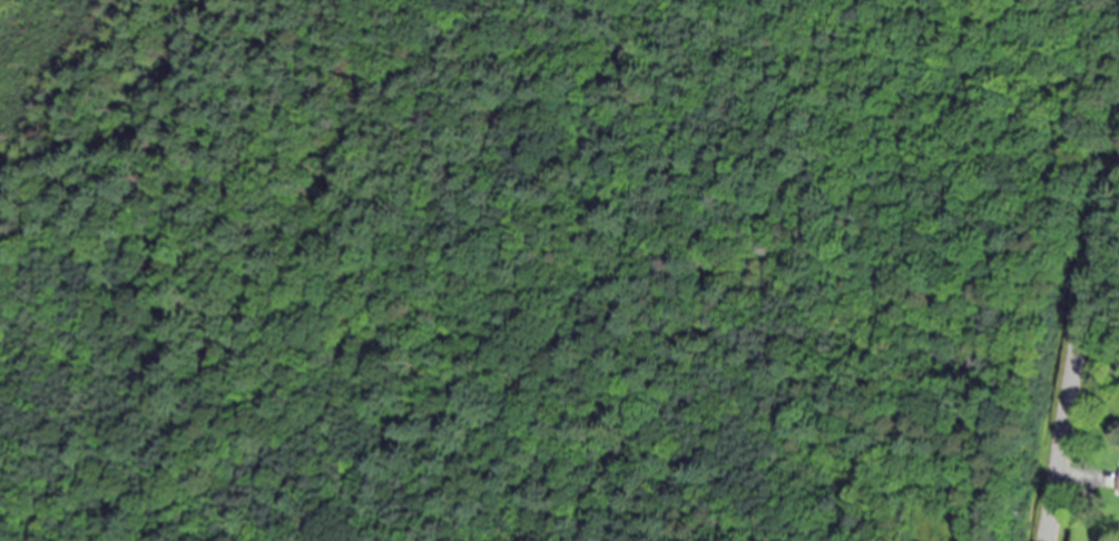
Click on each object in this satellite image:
road: (1076, 341)

